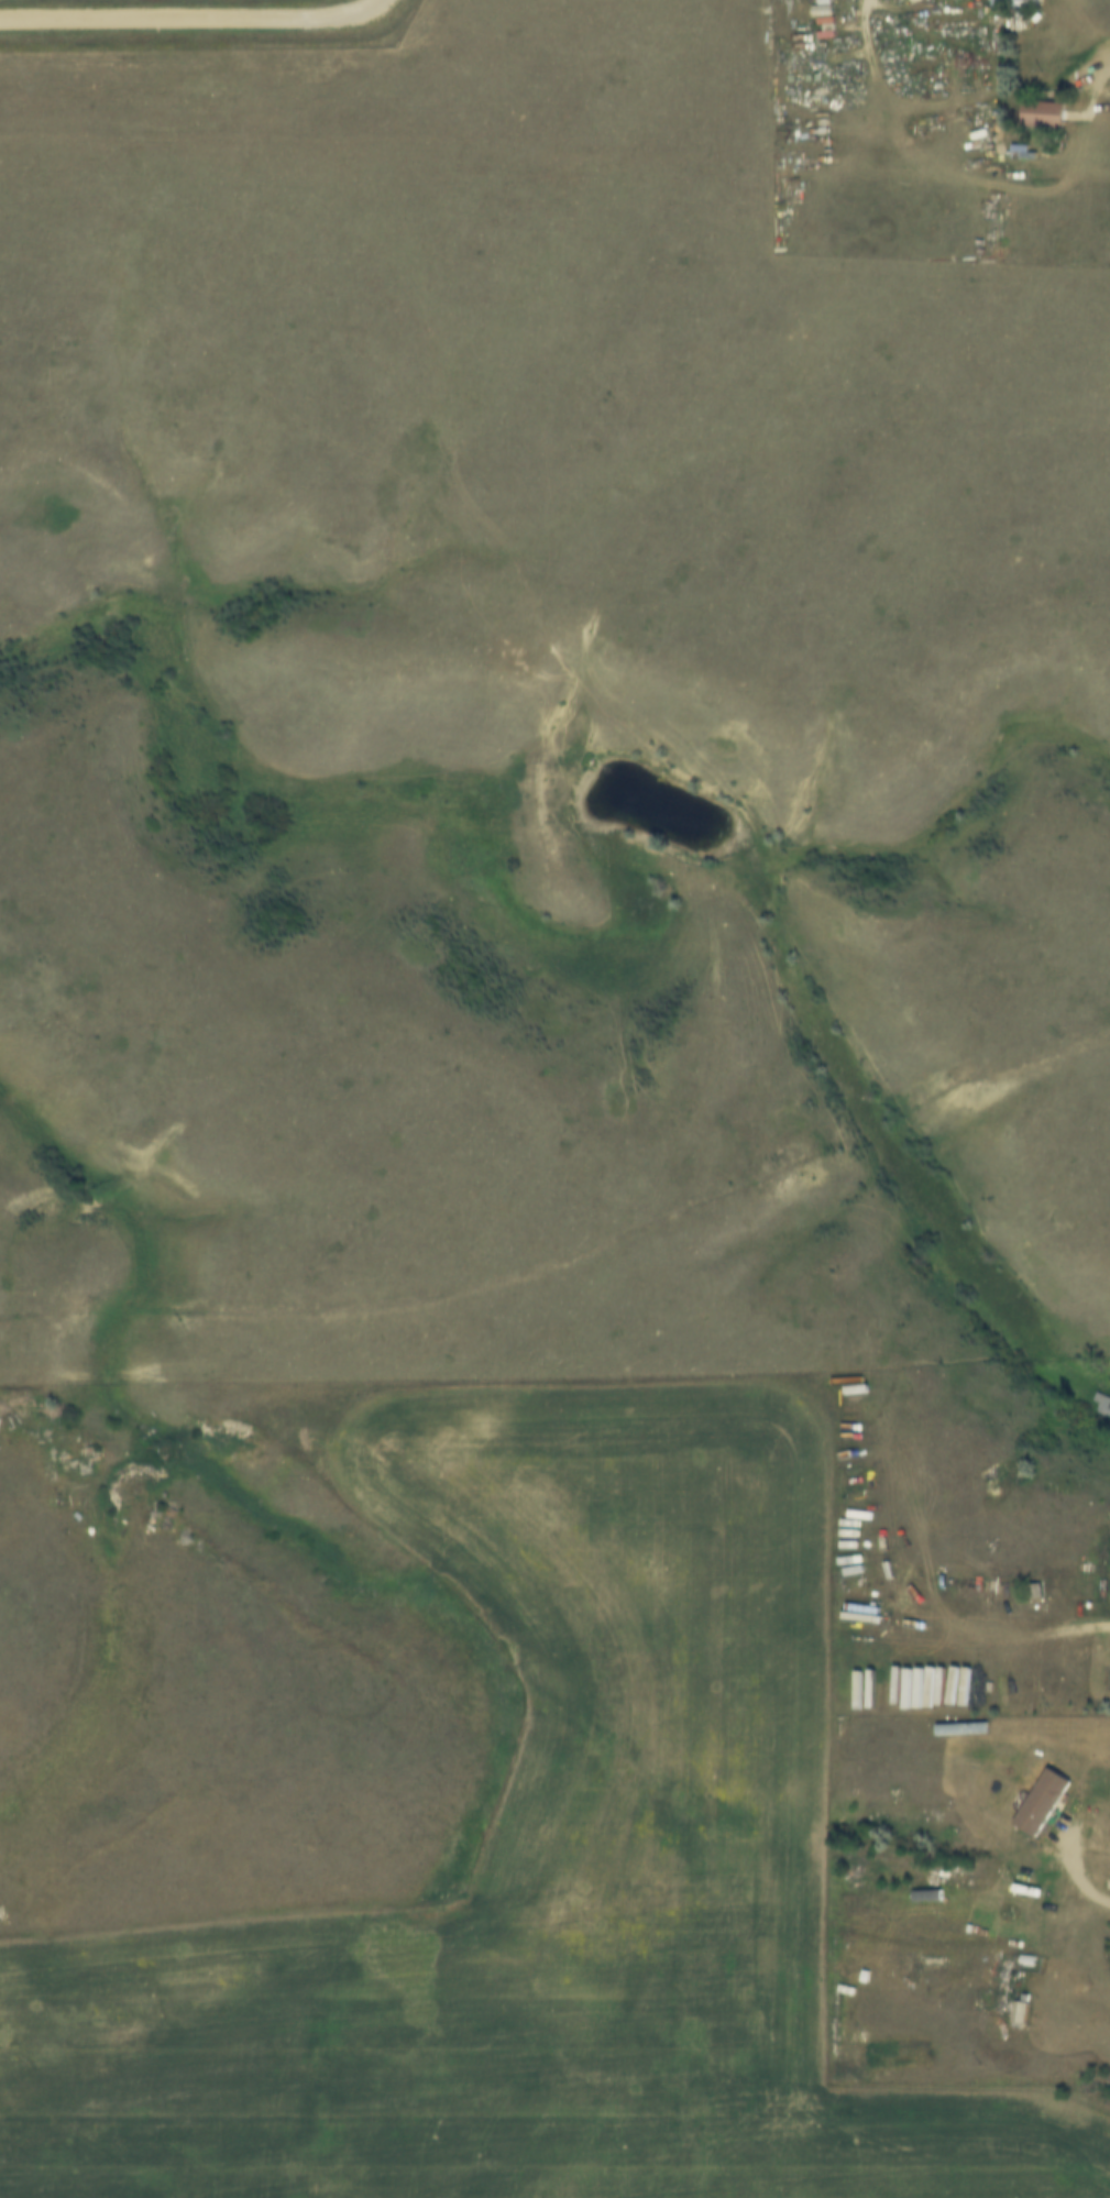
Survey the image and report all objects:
building: (1003, 2)
building: (1030, 2)
road: (1108, 67)
building: (1046, 111)
building: (1101, 1404)
building: (1045, 1799)

